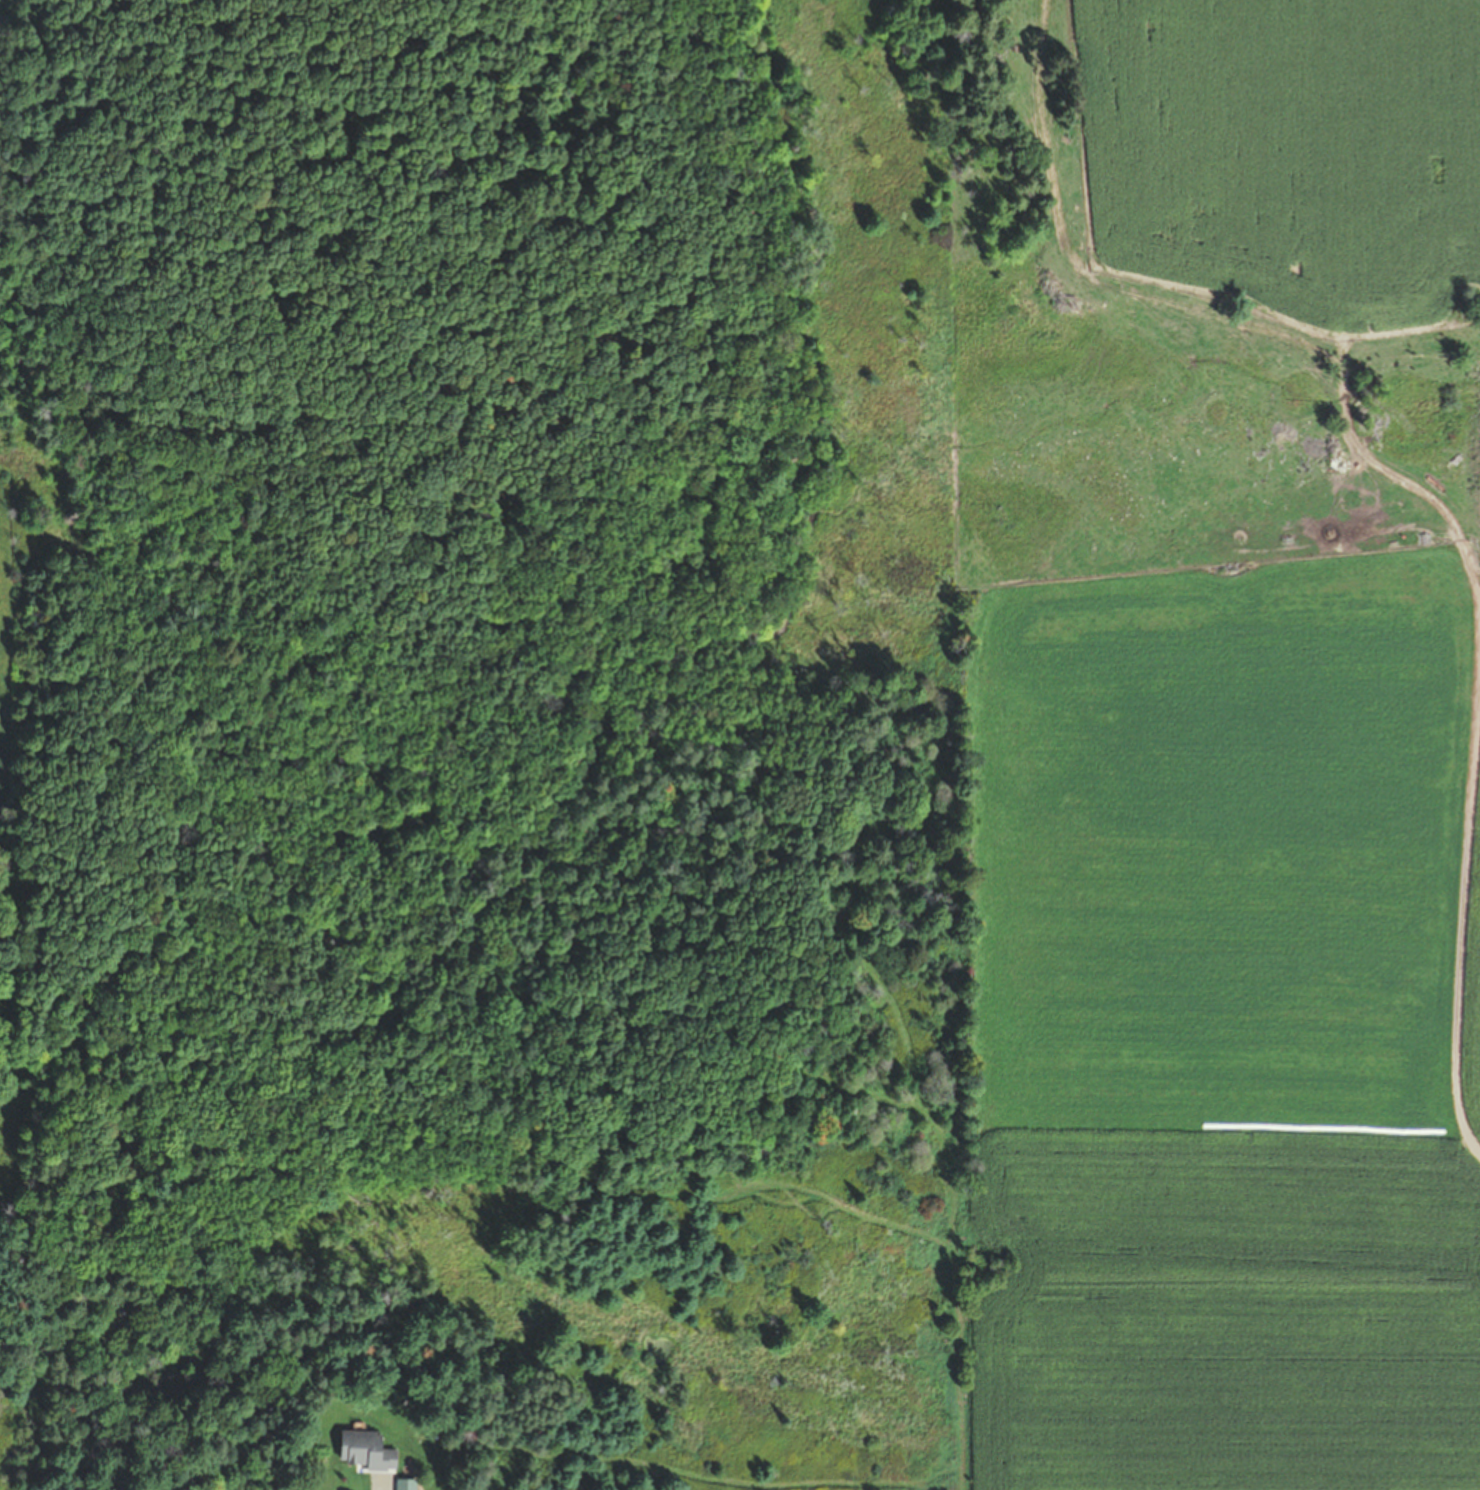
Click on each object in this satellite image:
building: (361, 1450)

